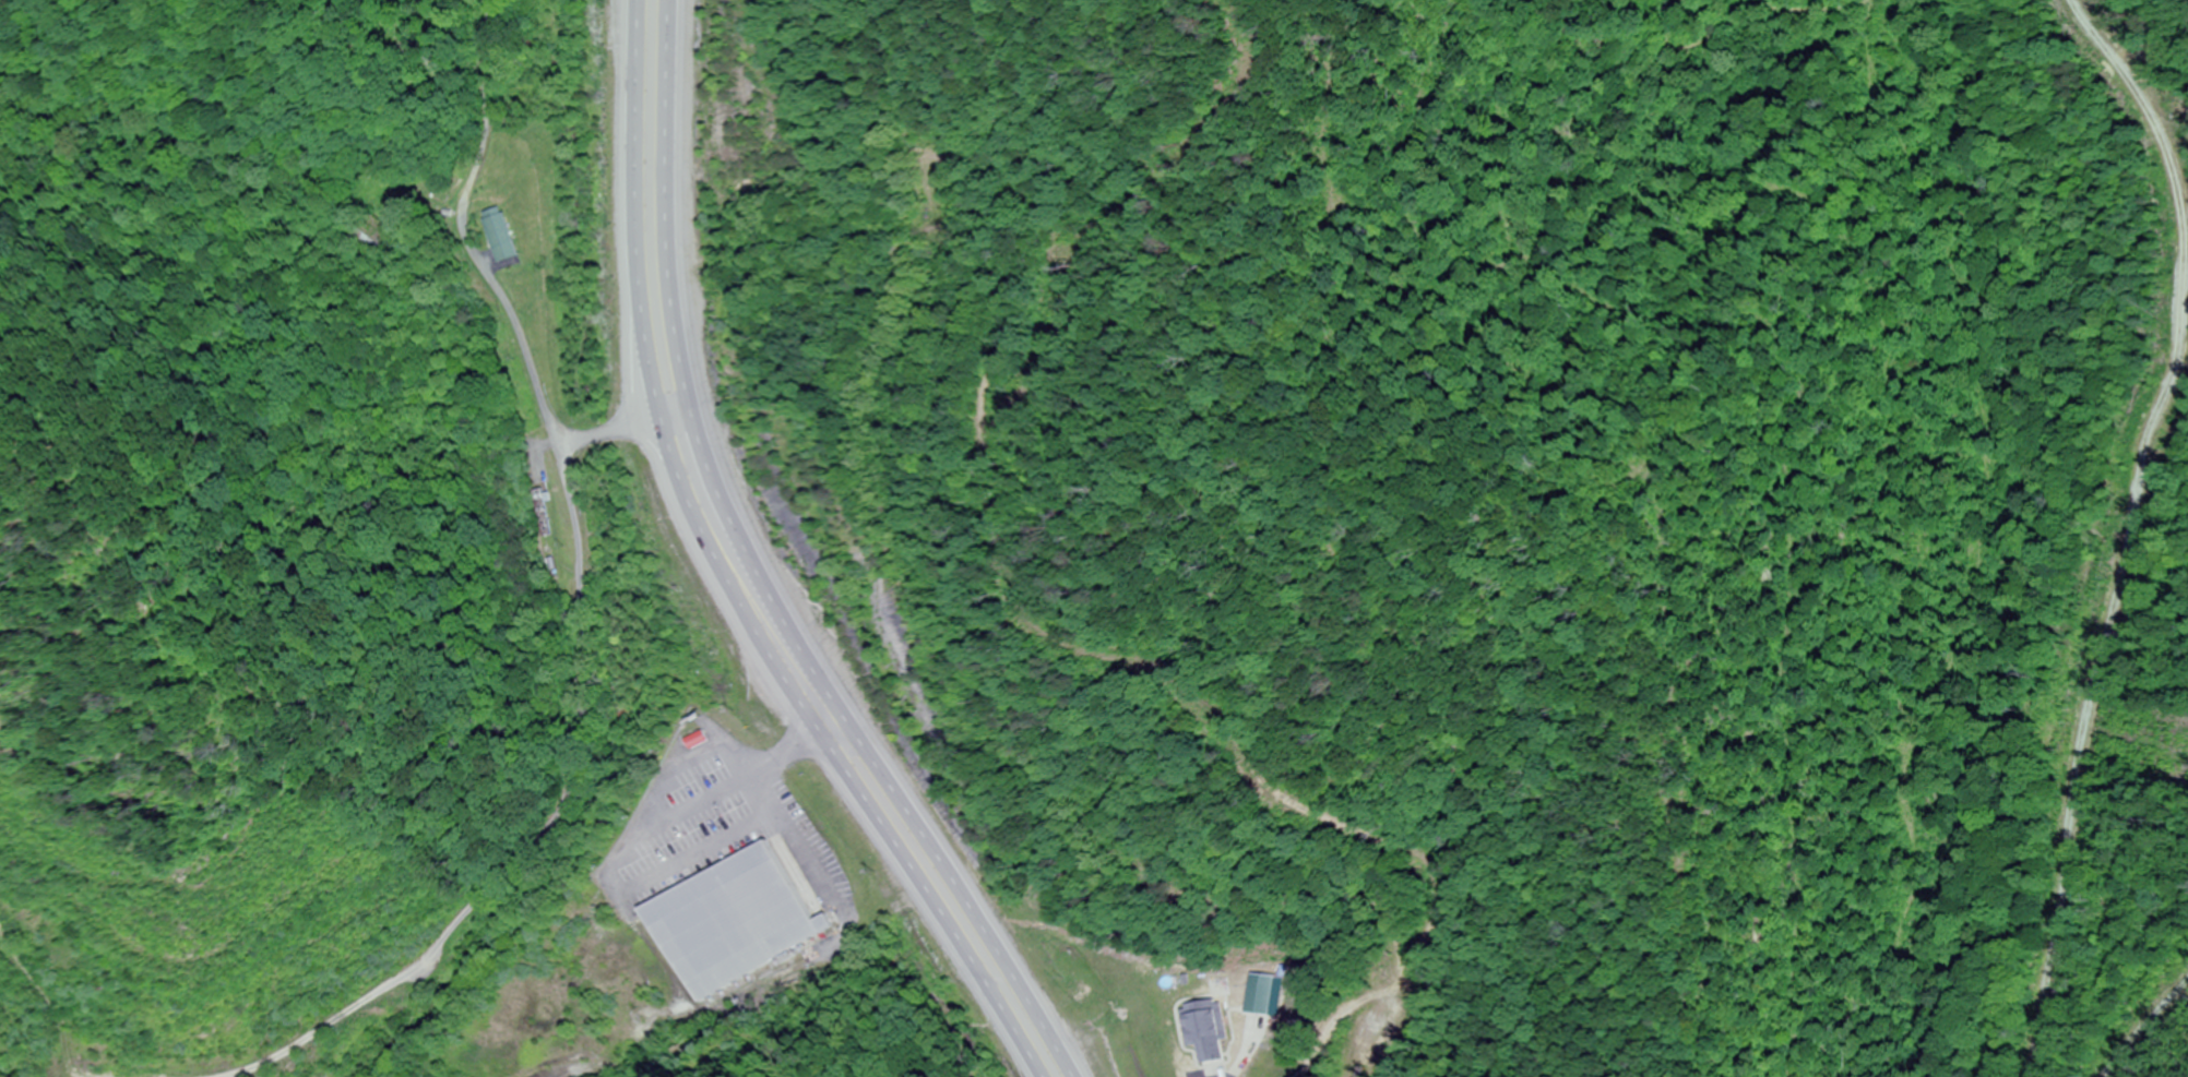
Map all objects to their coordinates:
building: (376, 232)
building: (504, 234)
road: (610, 432)
building: (542, 513)
road: (722, 578)
road: (760, 578)
road: (581, 605)
building: (733, 921)
building: (1258, 994)
building: (1208, 1029)

